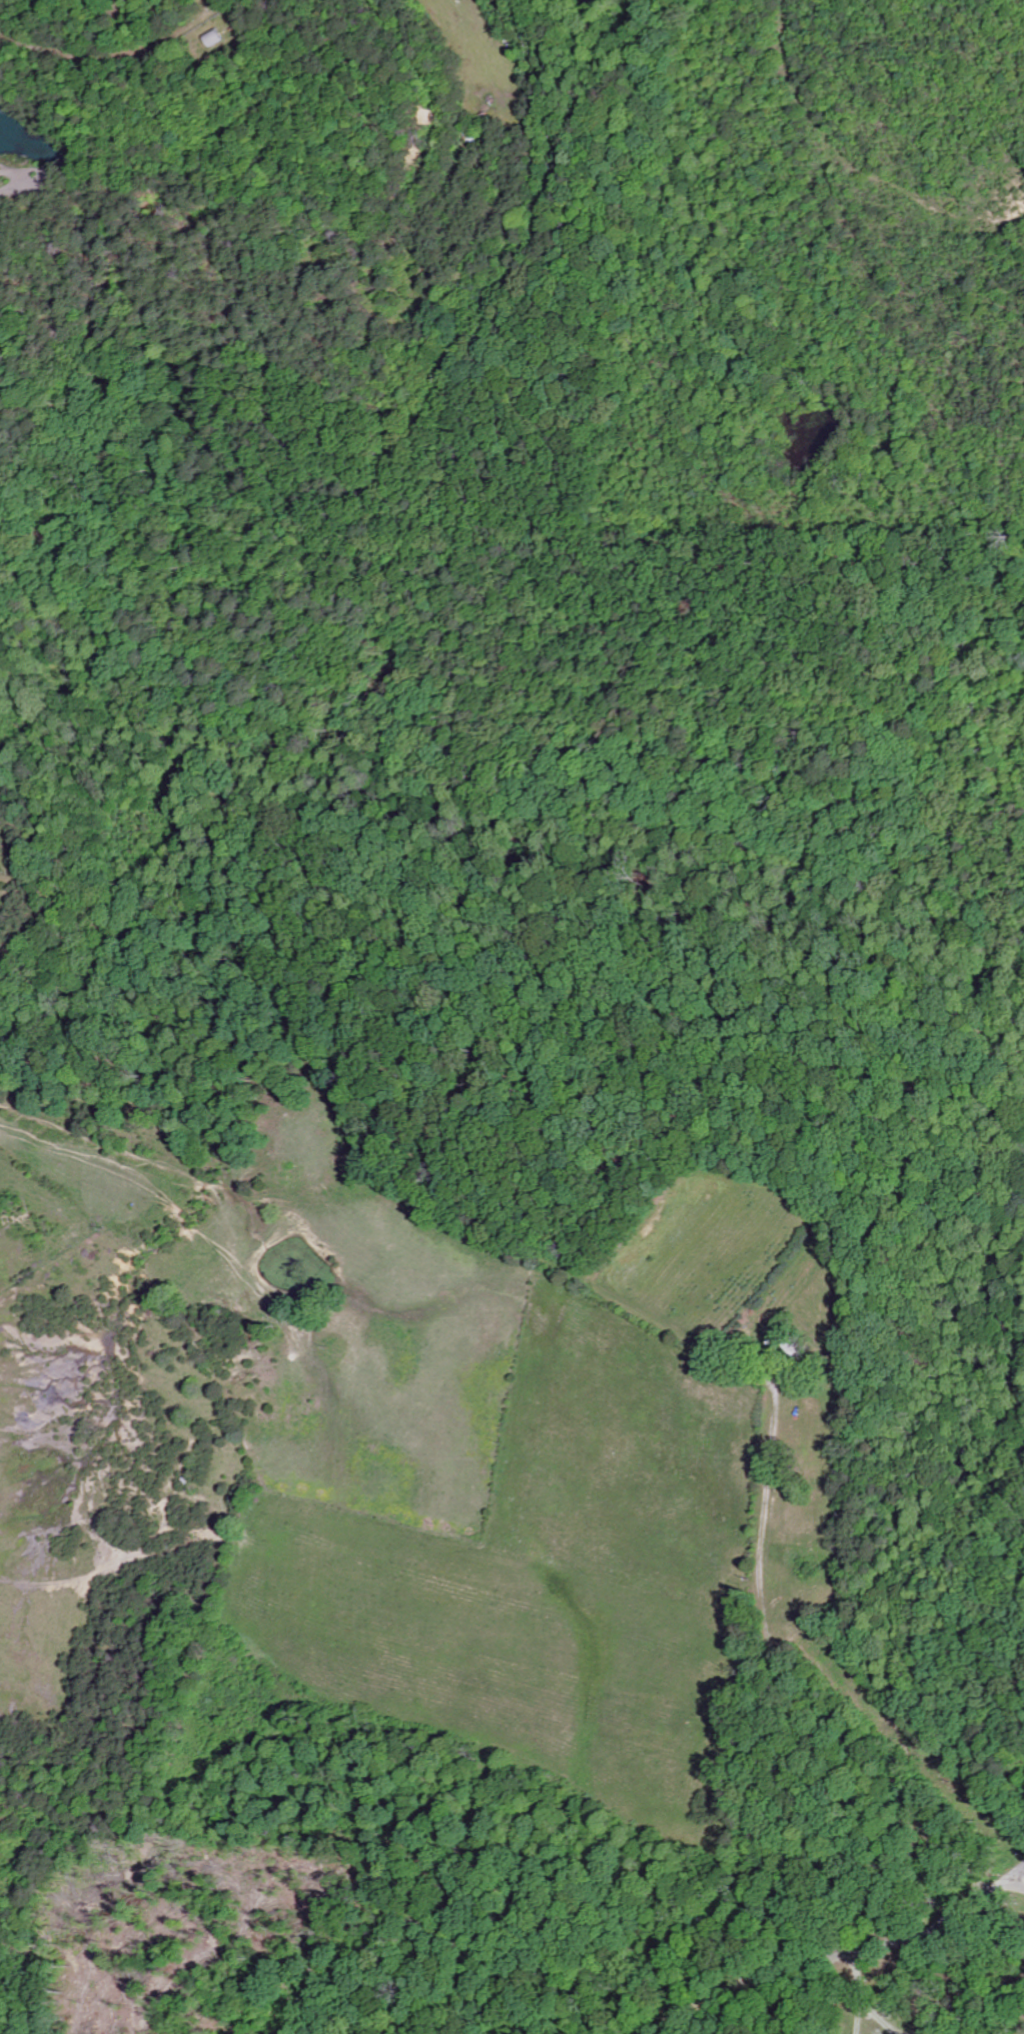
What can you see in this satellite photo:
road: (118, 53)
road: (1011, 1875)
road: (835, 1956)

